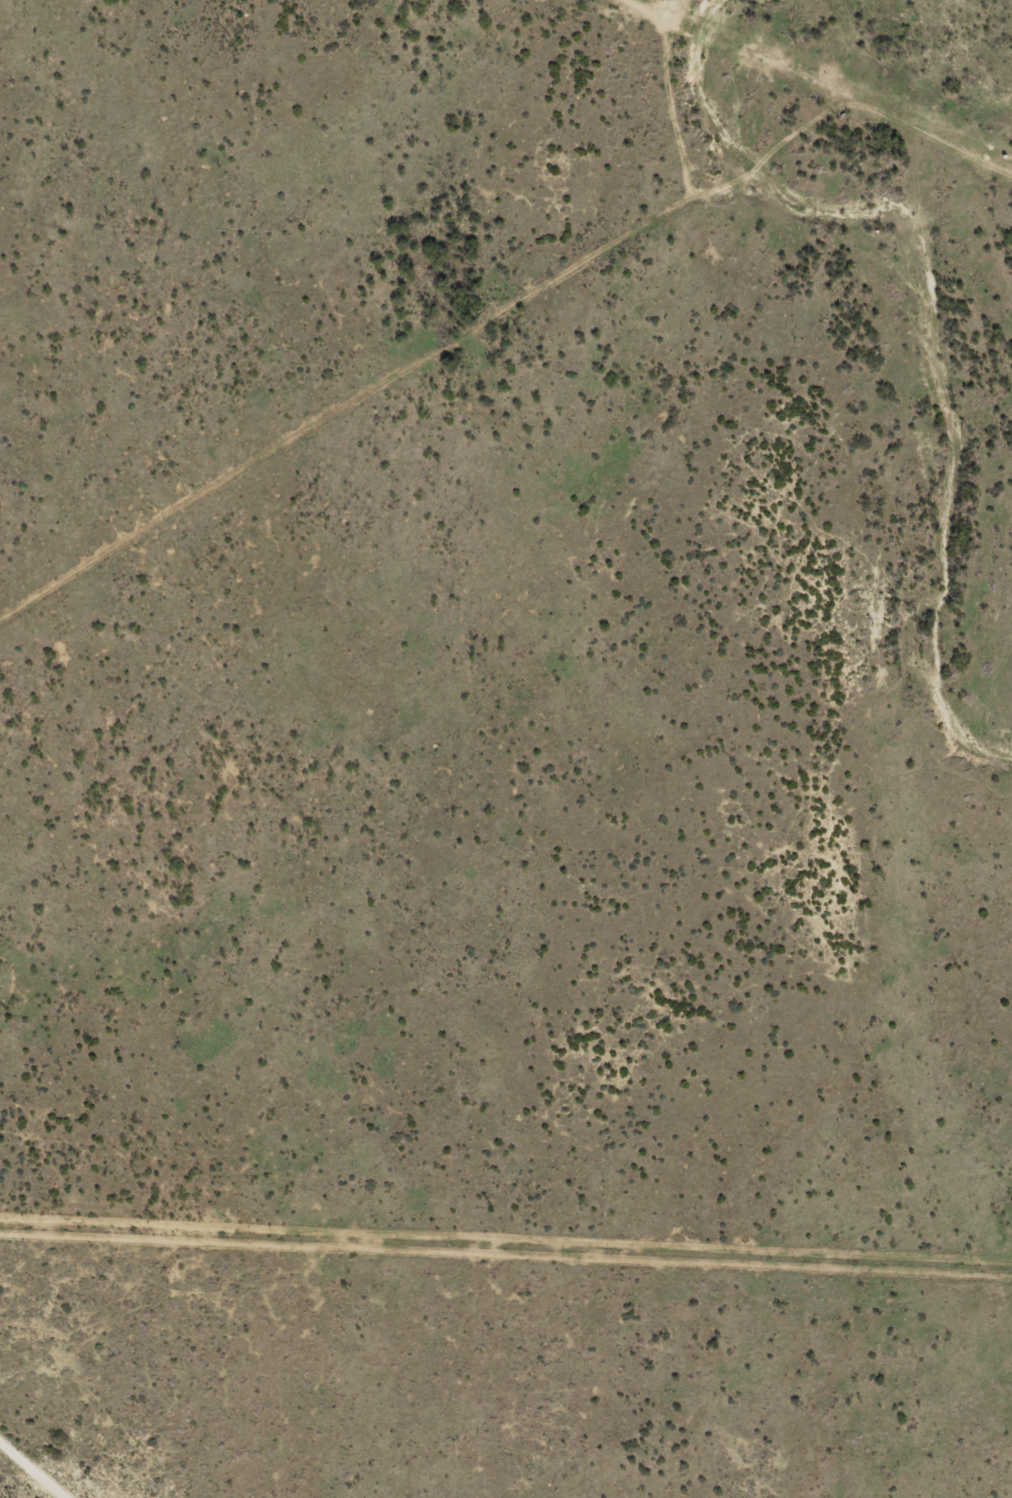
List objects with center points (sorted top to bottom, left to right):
road: (32, 1470)

